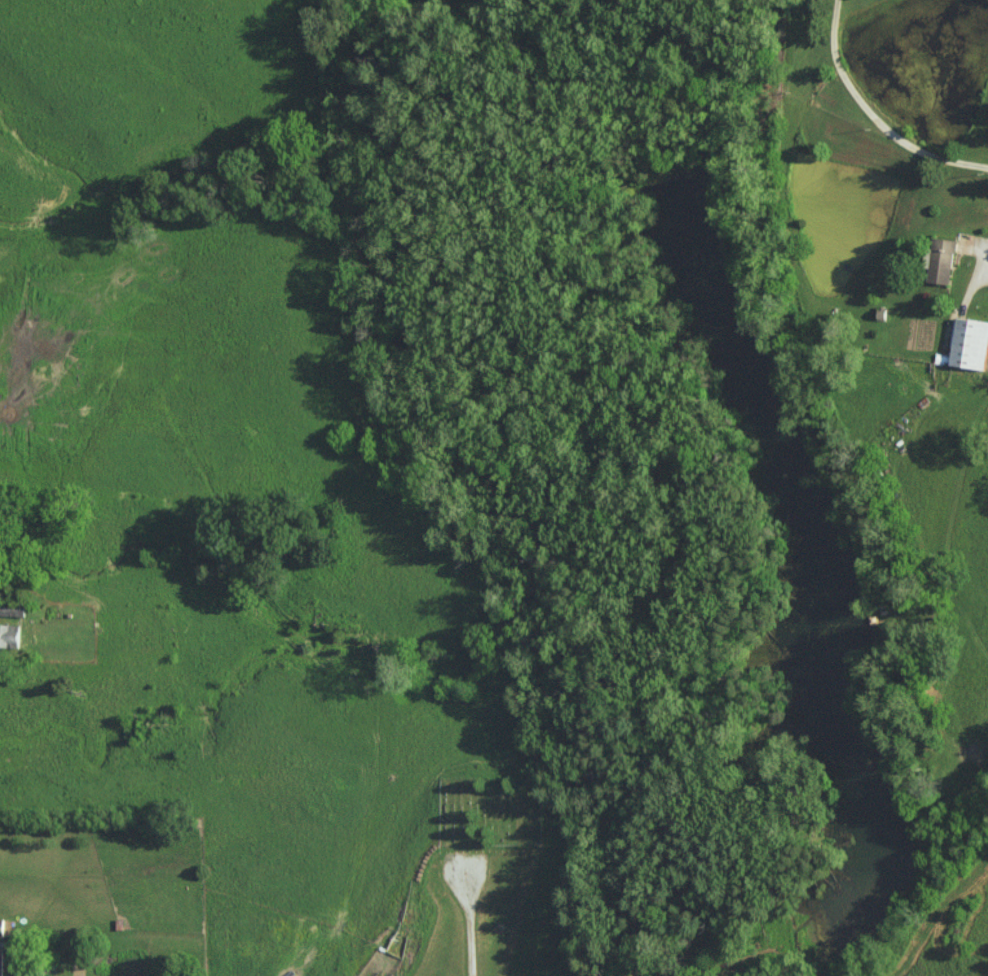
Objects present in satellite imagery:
road: (877, 109)
road: (986, 240)
building: (942, 260)
building: (970, 343)
building: (12, 608)
building: (7, 636)
park: (491, 810)
parking lot: (465, 865)
road: (470, 924)
building: (2, 927)
building: (1, 962)

